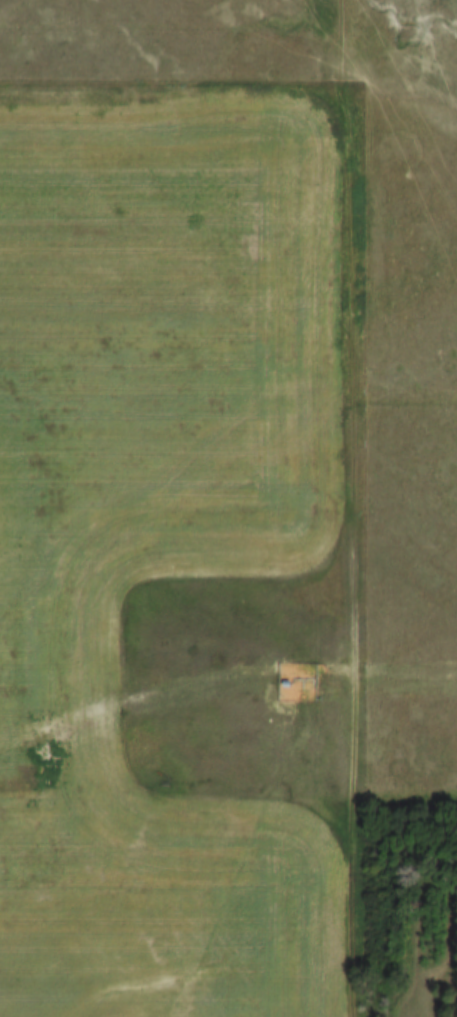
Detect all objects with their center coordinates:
road: (354, 508)

